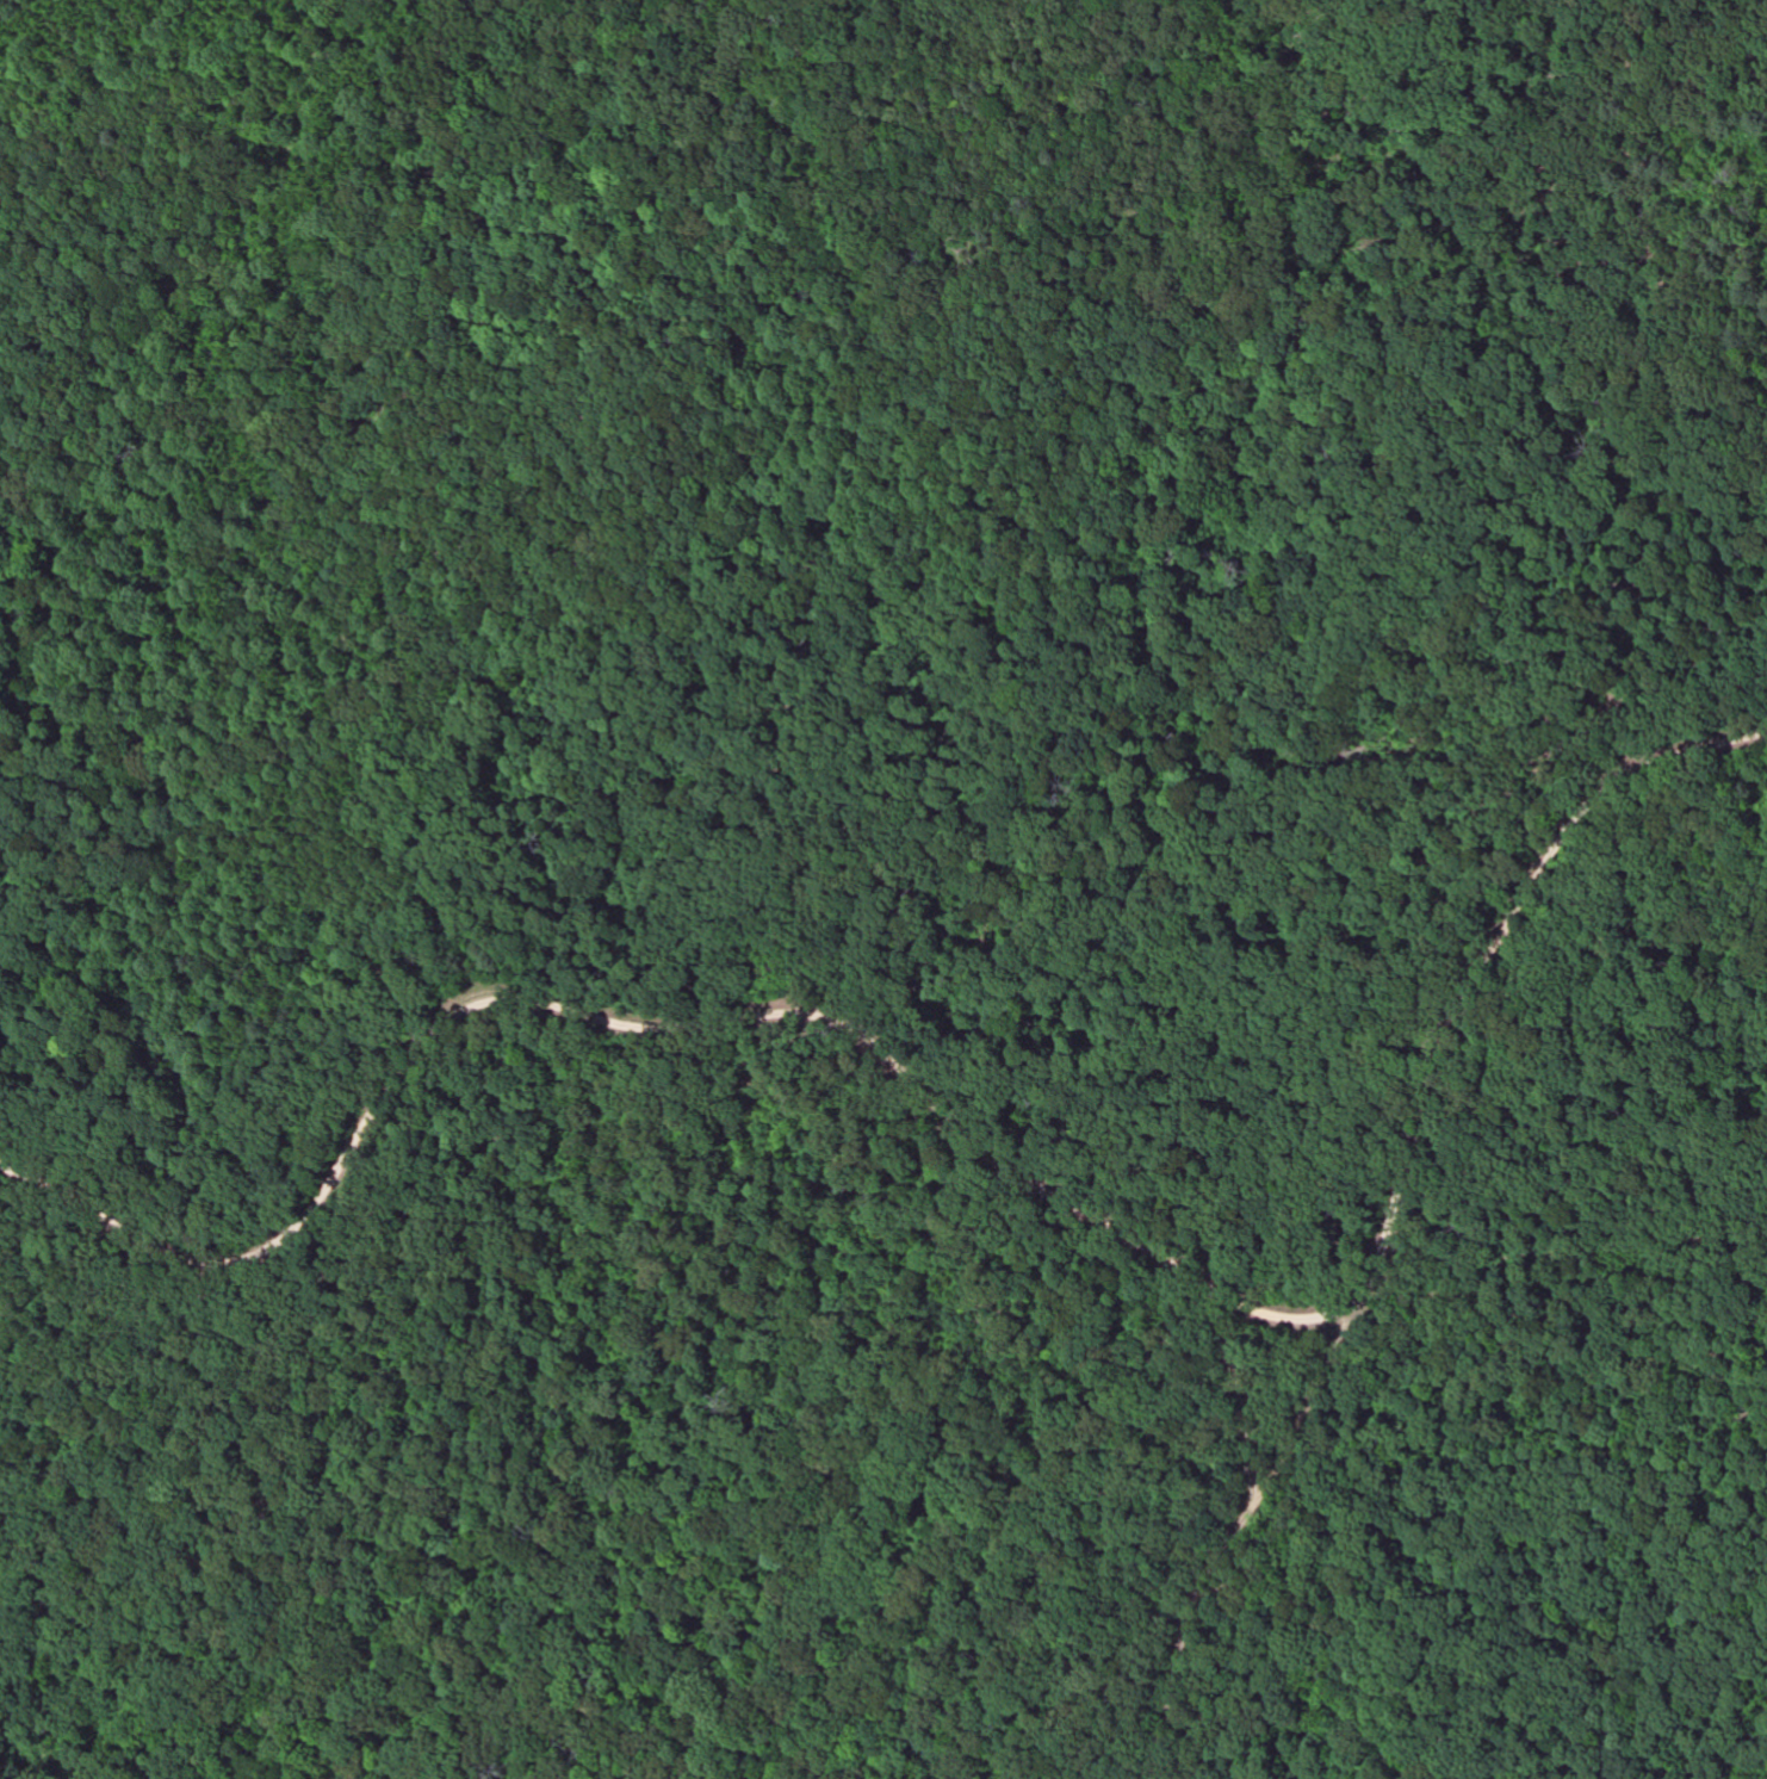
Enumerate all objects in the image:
road: (980, 1147)
road: (1240, 1394)
road: (1236, 1538)

